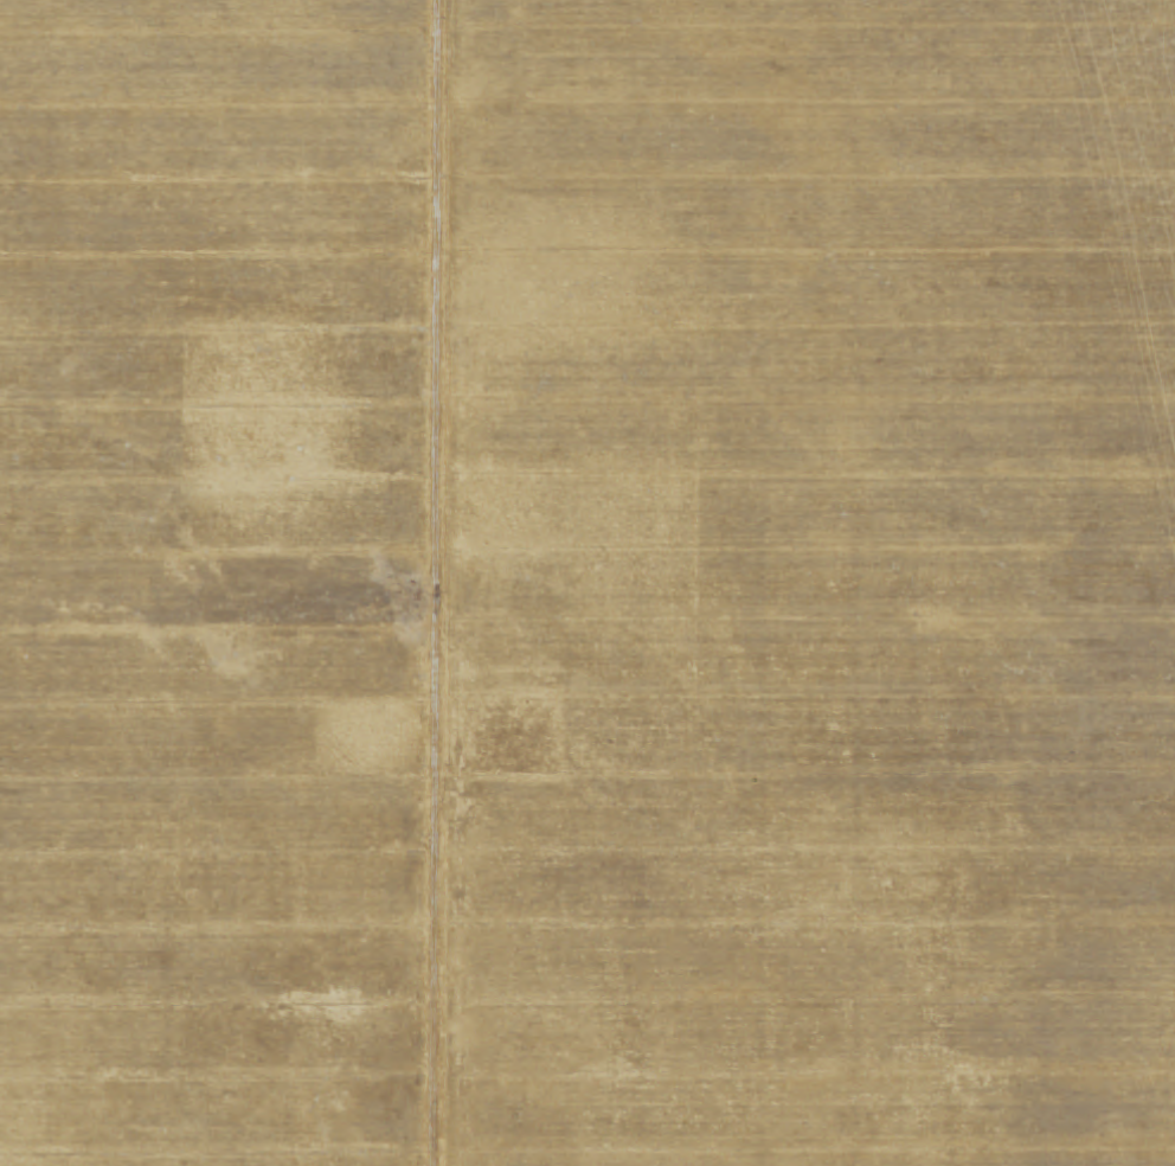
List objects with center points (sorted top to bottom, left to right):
railway: (1144, 145)
railway: (1138, 172)
crop: (214, 582)
road: (434, 583)
crop: (795, 597)

